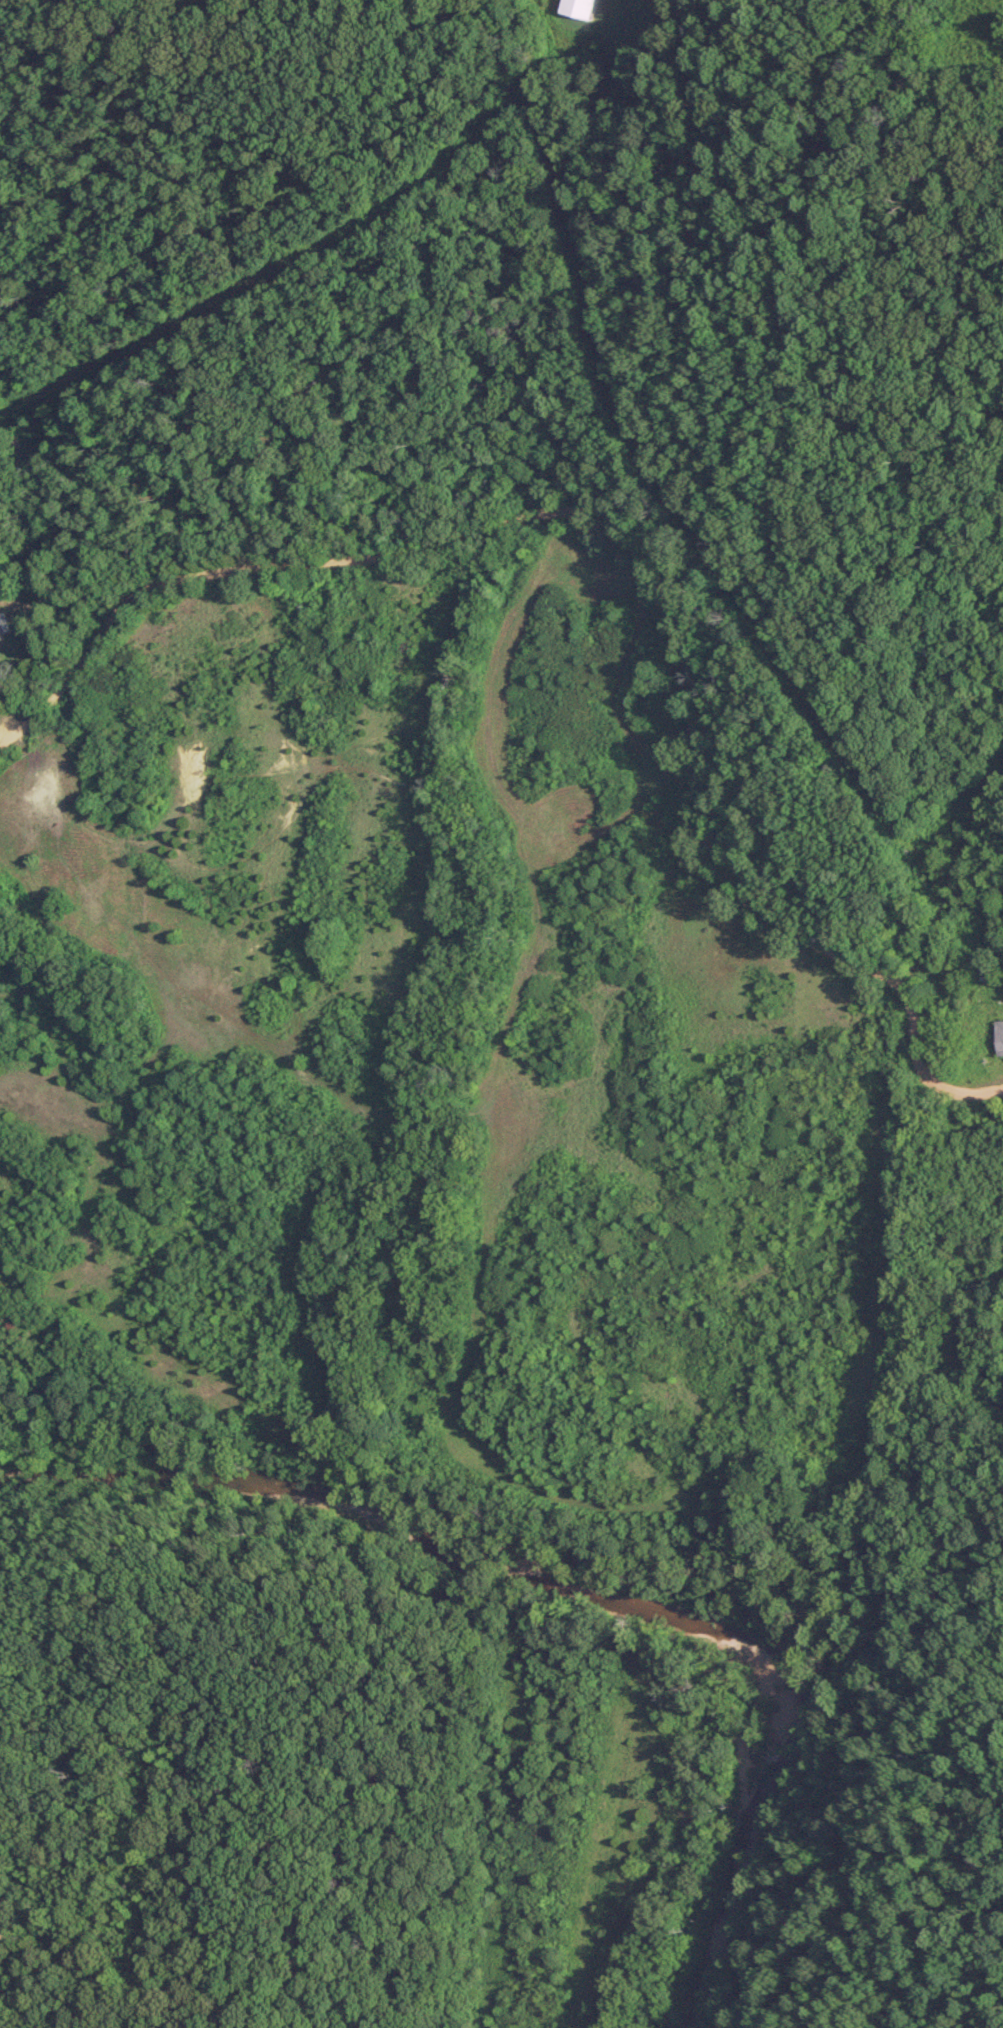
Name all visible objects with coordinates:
building: (580, 8)
road: (525, 236)
road: (635, 552)
building: (999, 1038)

